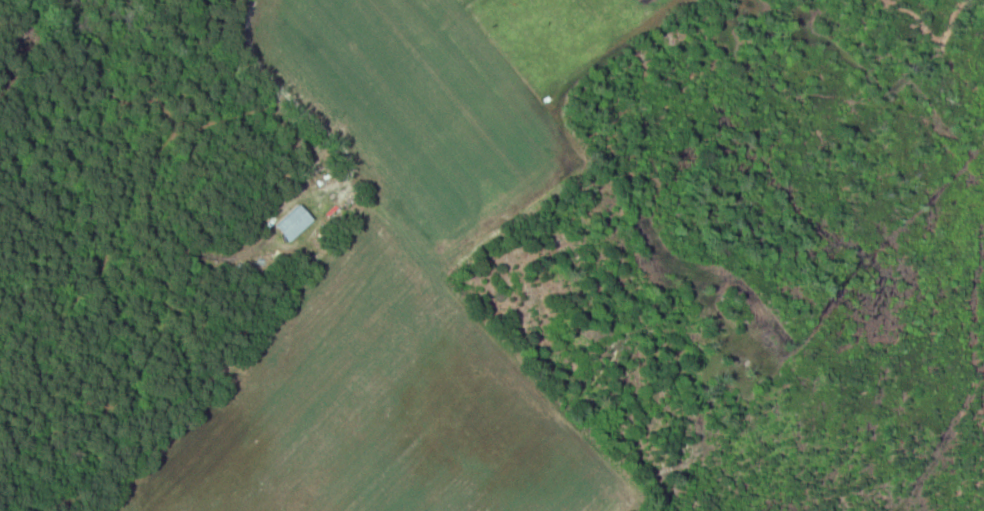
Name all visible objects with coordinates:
building: (294, 223)

